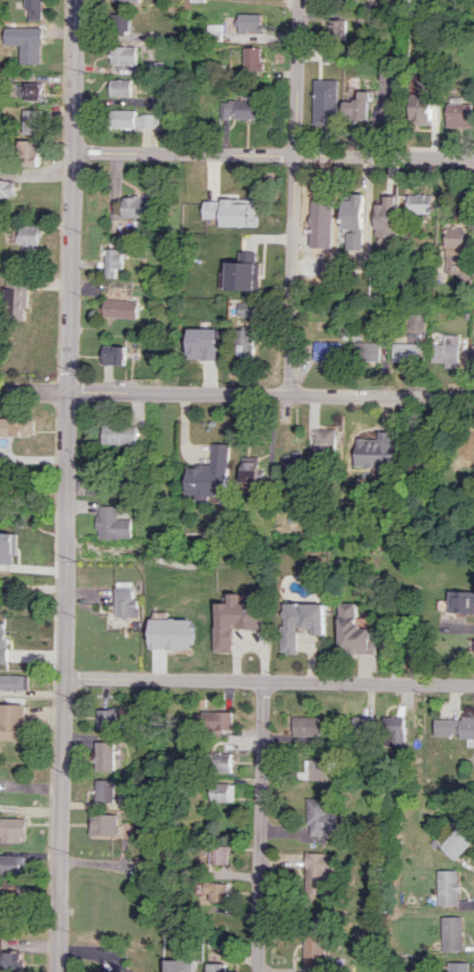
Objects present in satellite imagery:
building: (127, 0)
building: (36, 8)
building: (124, 22)
building: (249, 22)
building: (336, 27)
building: (31, 46)
building: (124, 54)
building: (328, 54)
building: (252, 58)
building: (385, 72)
building: (121, 87)
building: (28, 90)
building: (325, 101)
building: (424, 103)
building: (357, 107)
building: (240, 109)
building: (459, 114)
building: (133, 119)
building: (32, 121)
building: (27, 152)
road: (273, 154)
building: (6, 188)
road: (302, 197)
building: (420, 203)
building: (321, 205)
building: (135, 206)
building: (230, 212)
building: (354, 212)
building: (387, 216)
building: (27, 236)
building: (456, 252)
building: (248, 256)
building: (113, 261)
building: (243, 276)
building: (19, 292)
building: (120, 308)
building: (416, 324)
building: (248, 341)
building: (203, 343)
building: (327, 350)
building: (447, 350)
building: (366, 351)
building: (405, 352)
building: (472, 353)
building: (114, 355)
road: (236, 393)
building: (18, 426)
building: (121, 434)
building: (325, 442)
building: (375, 450)
building: (292, 466)
building: (212, 474)
building: (251, 474)
road: (66, 486)
building: (113, 523)
building: (7, 548)
building: (461, 601)
building: (125, 602)
building: (234, 620)
building: (300, 622)
building: (352, 631)
building: (173, 637)
building: (2, 642)
road: (268, 681)
building: (13, 682)
building: (106, 718)
building: (215, 718)
building: (12, 721)
building: (361, 724)
building: (305, 725)
building: (455, 726)
building: (392, 730)
building: (105, 755)
building: (219, 760)
building: (316, 768)
building: (105, 790)
building: (224, 791)
building: (317, 815)
building: (105, 824)
road: (259, 826)
building: (12, 829)
building: (457, 840)
building: (218, 852)
building: (149, 867)
building: (317, 871)
building: (10, 874)
building: (445, 887)
building: (218, 889)
road: (30, 898)
building: (450, 934)
building: (311, 944)
building: (13, 960)
building: (215, 966)
building: (457, 966)
building: (180, 969)
building: (101, 971)

